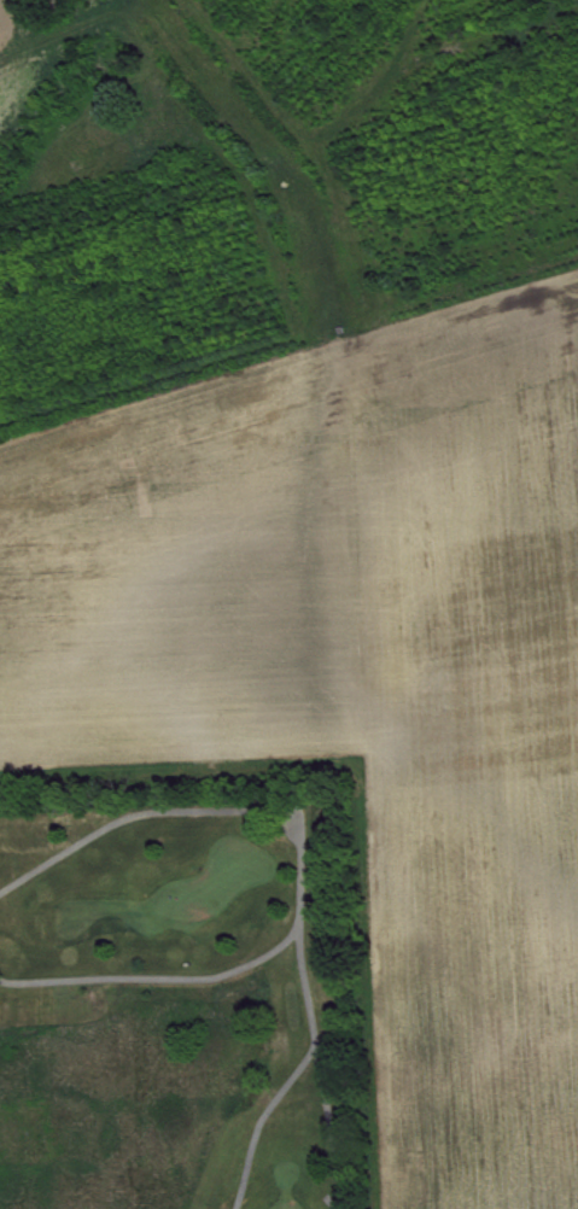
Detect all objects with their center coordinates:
park: (222, 890)
park: (165, 1004)

